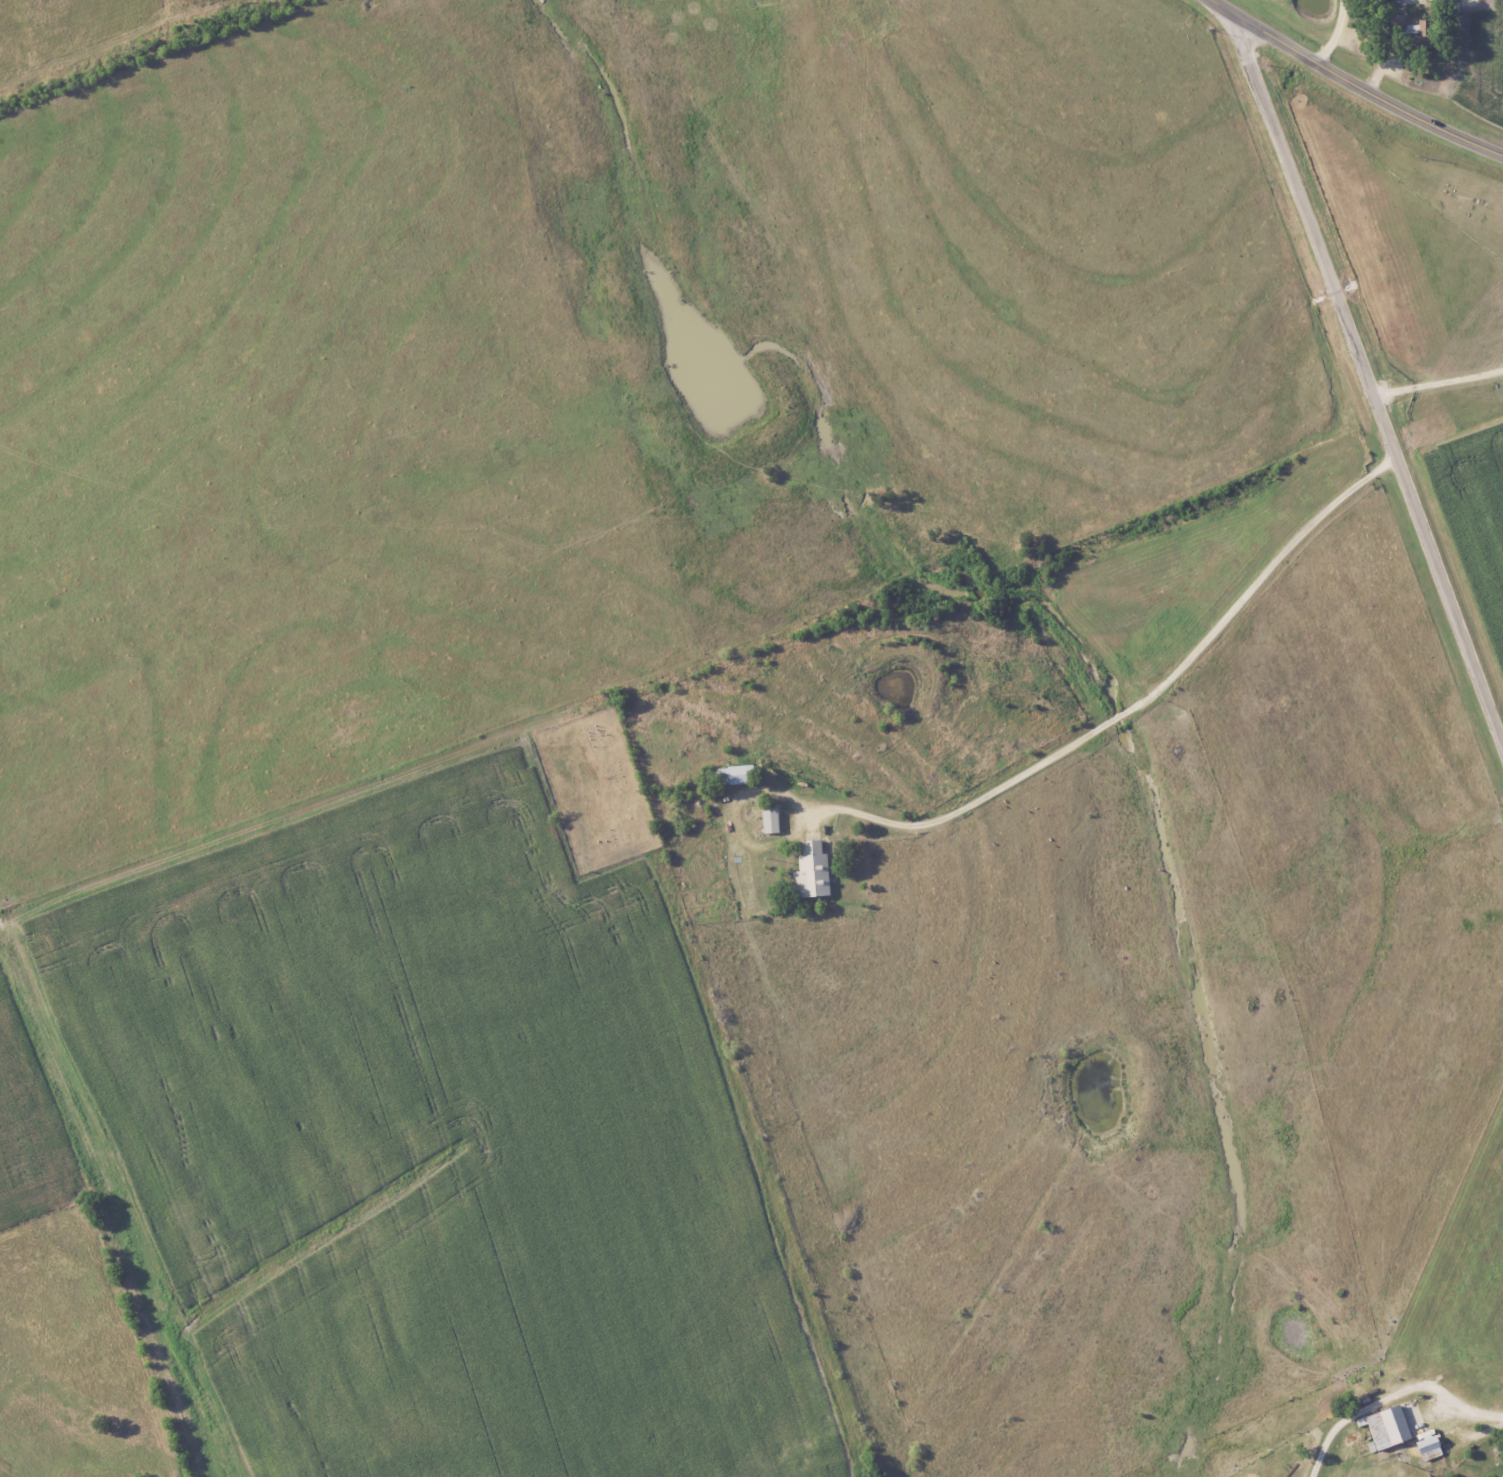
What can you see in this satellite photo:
building: (1414, 30)
road: (1353, 84)
road: (1368, 379)
road: (1438, 384)
road: (1145, 709)
park: (595, 789)
building: (768, 818)
road: (1476, 1412)
building: (1385, 1428)

